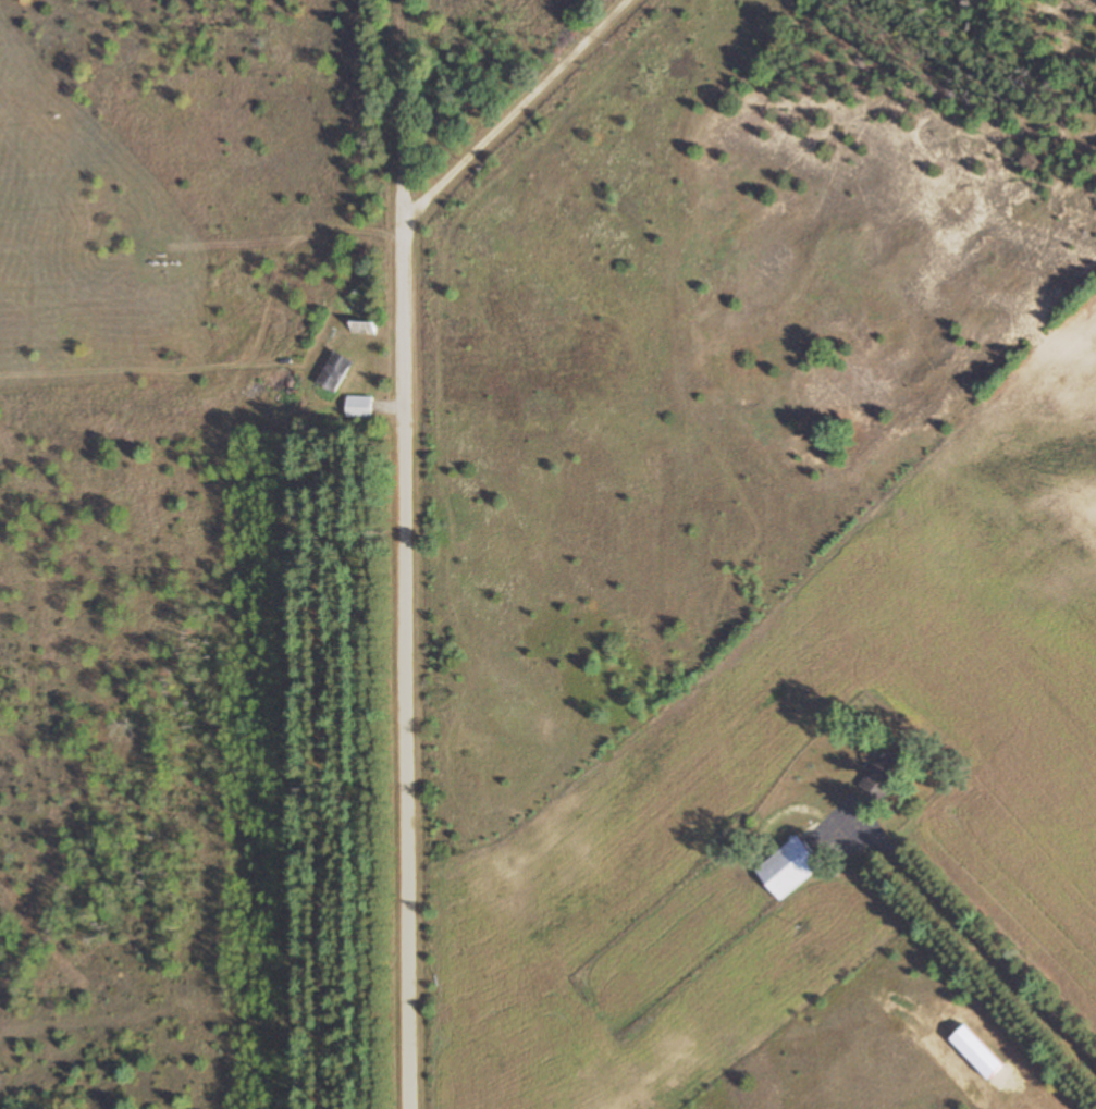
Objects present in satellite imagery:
road: (515, 108)
building: (364, 328)
building: (336, 371)
airport: (149, 512)
road: (405, 554)
building: (882, 776)
building: (788, 867)

